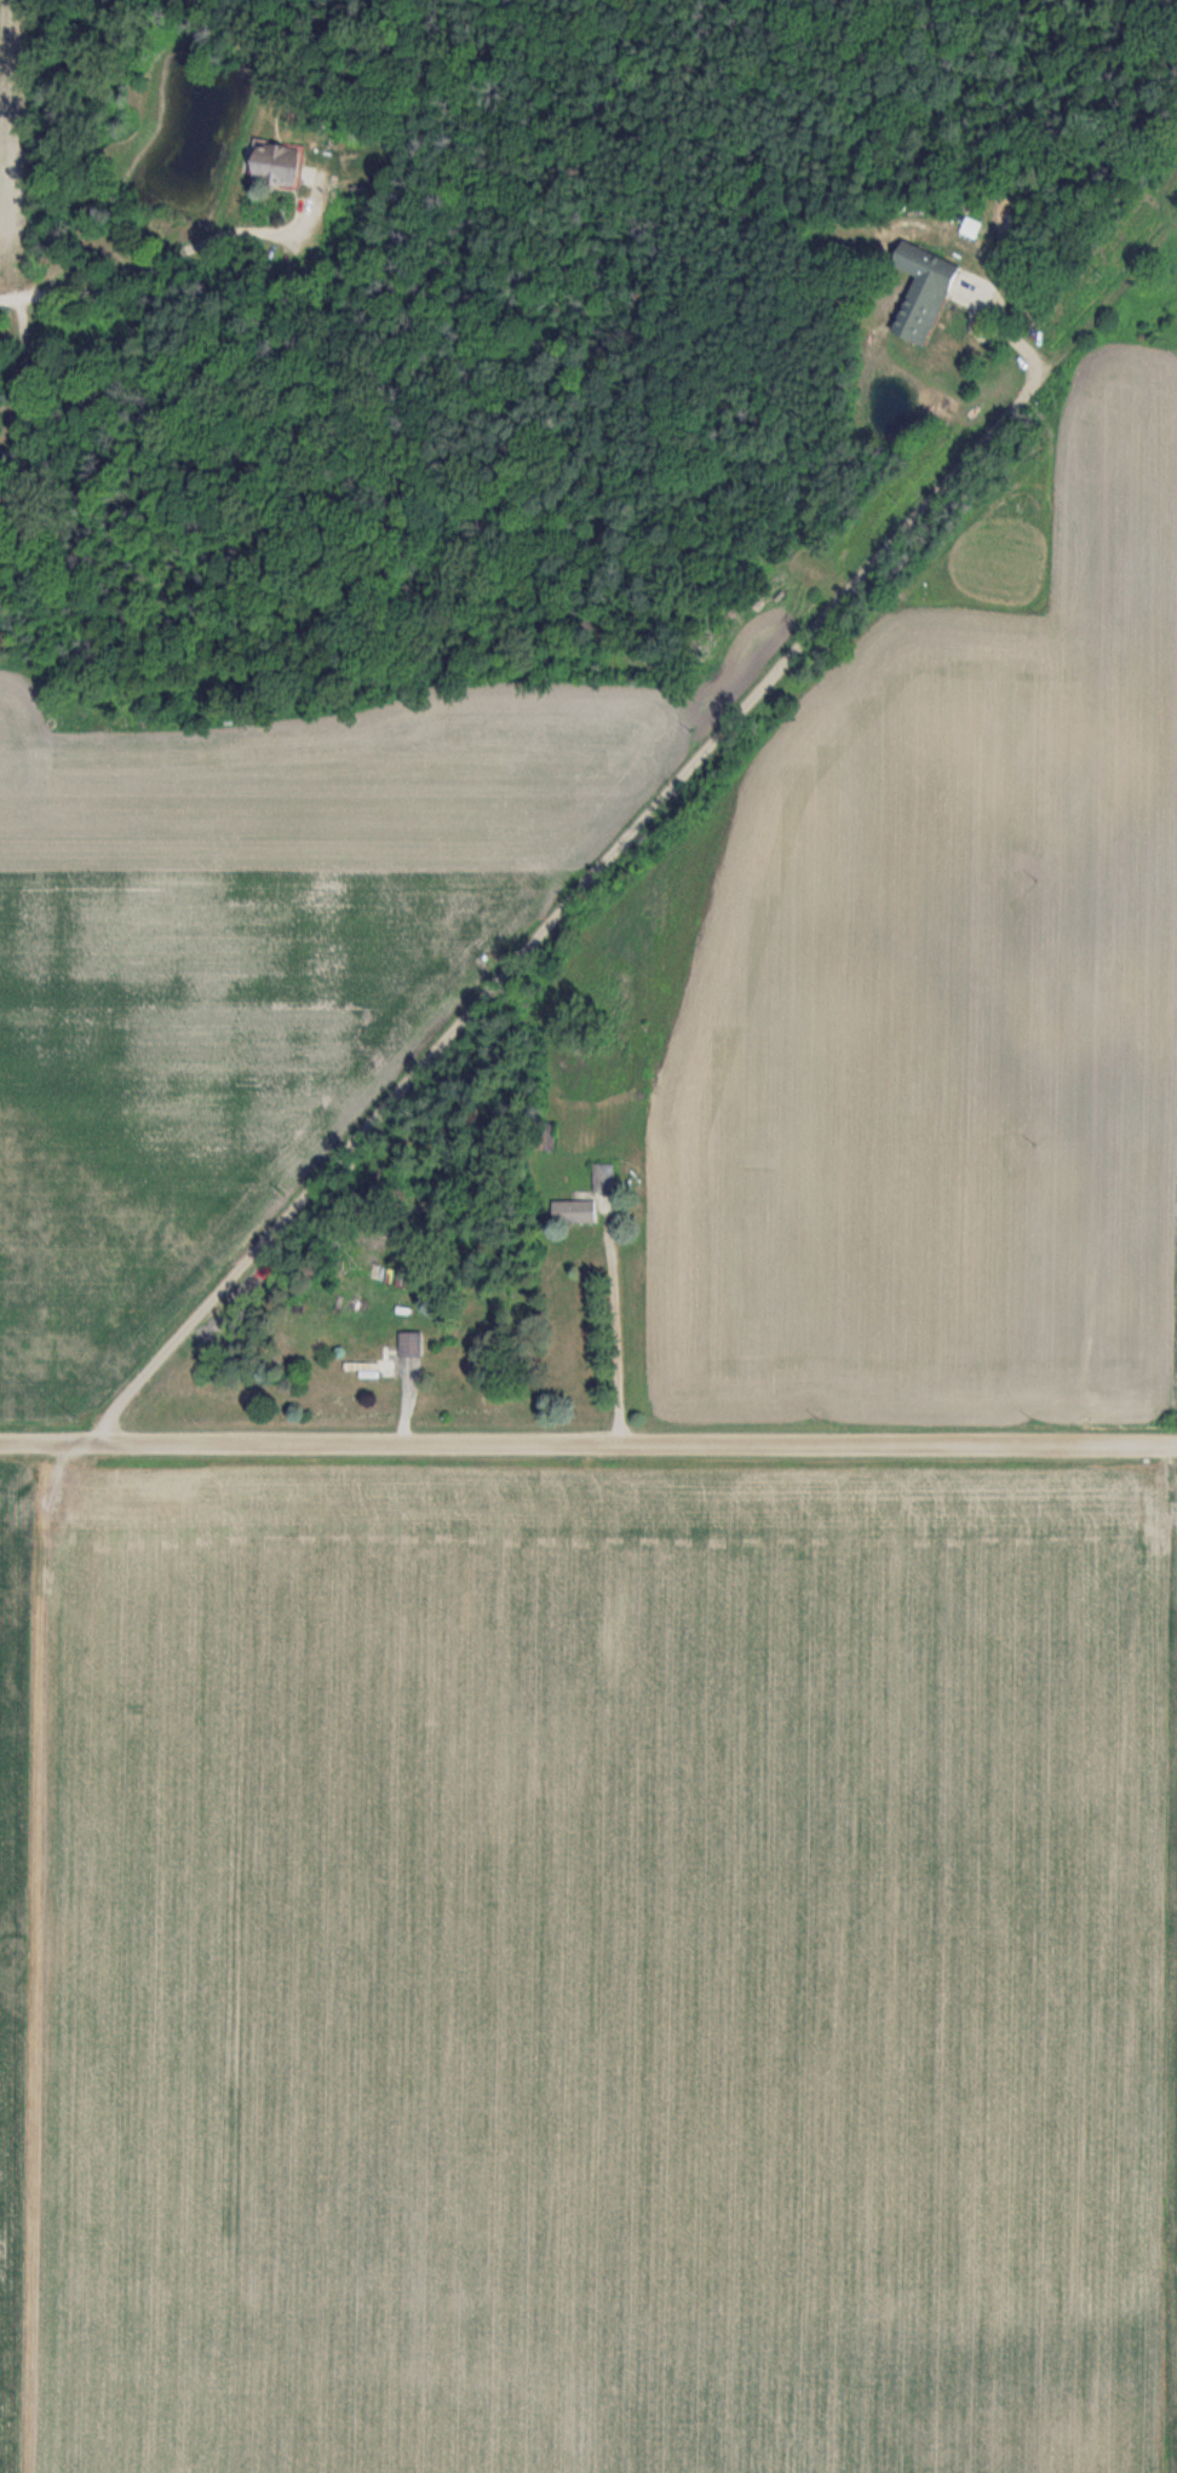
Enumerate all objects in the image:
building: (269, 163)
road: (143, 279)
building: (915, 291)
road: (599, 863)
building: (542, 1135)
building: (602, 1177)
building: (570, 1211)
road: (614, 1326)
building: (381, 1356)
road: (587, 1447)

